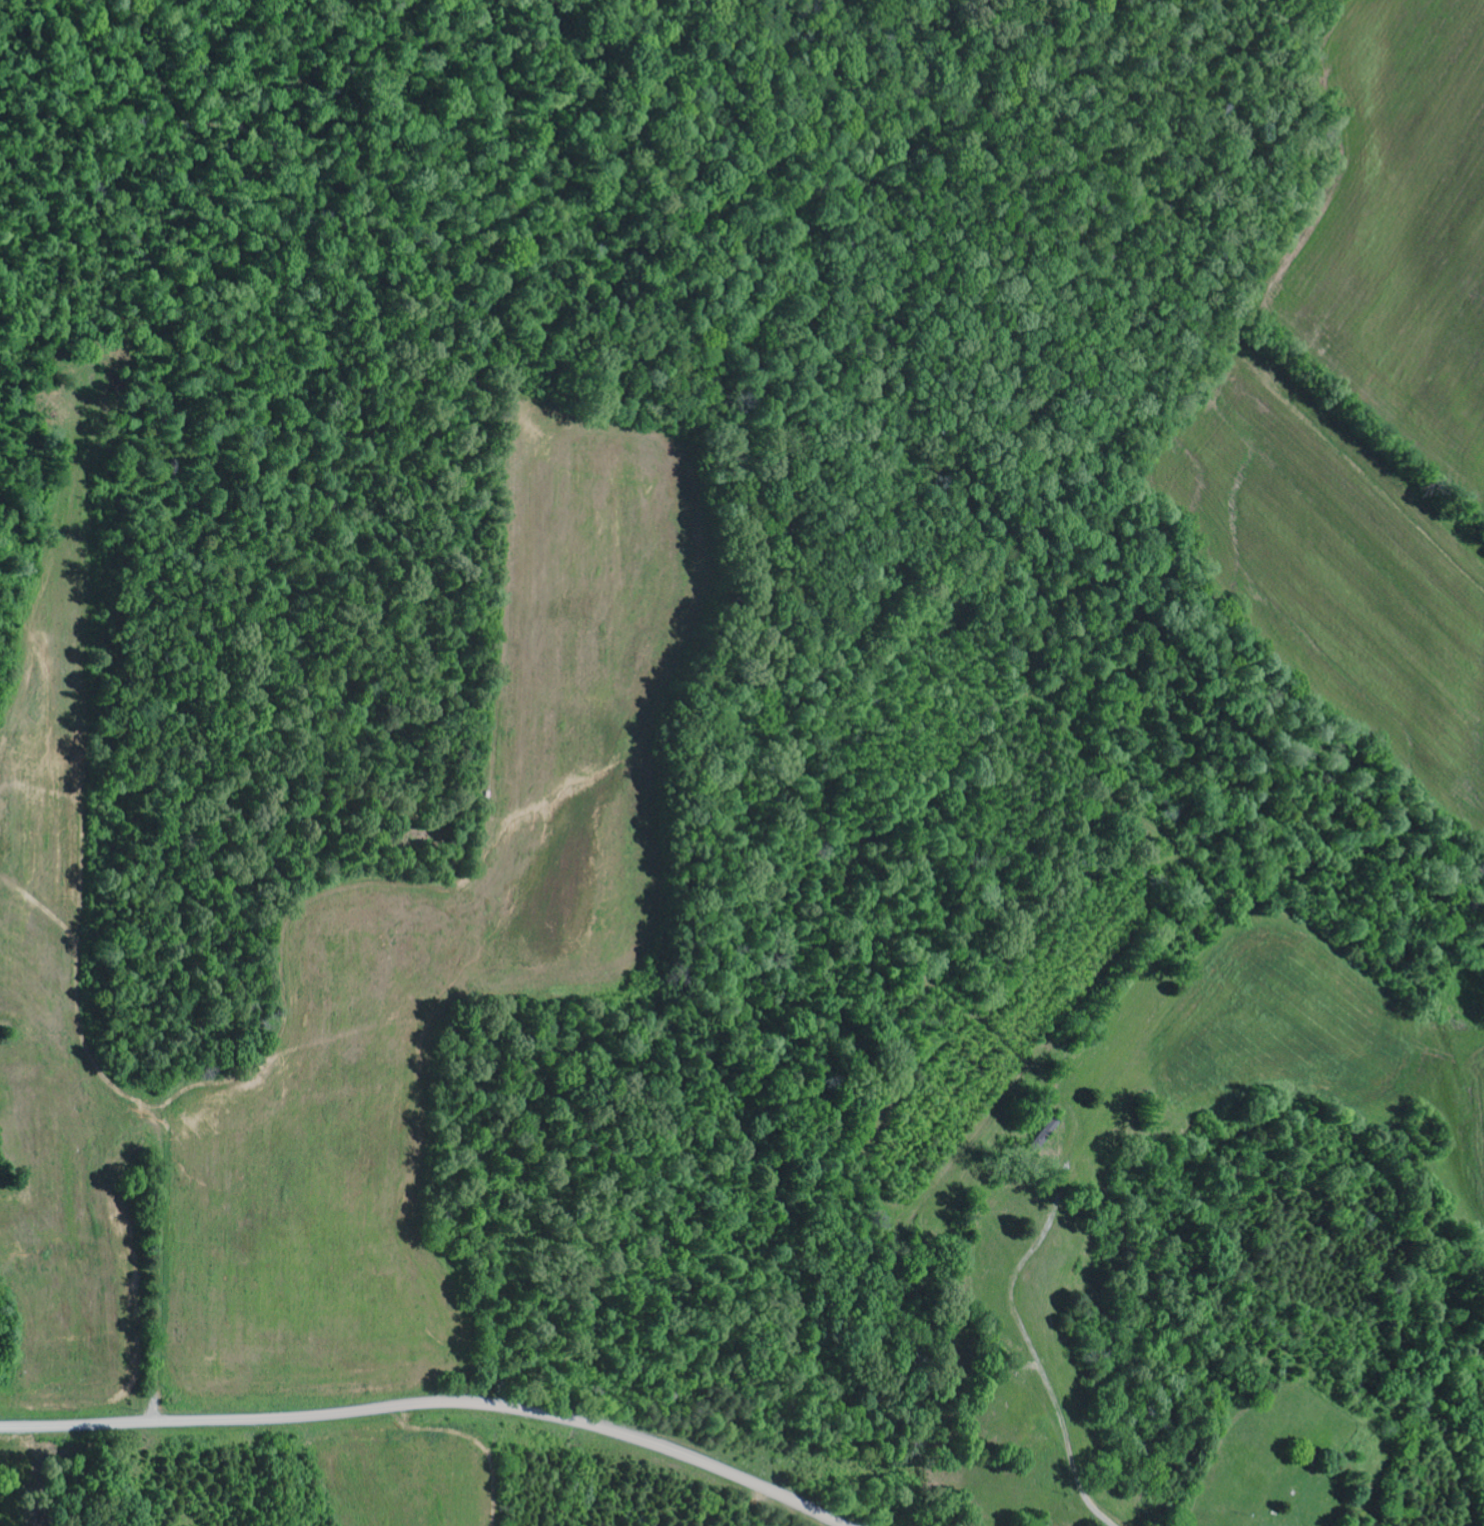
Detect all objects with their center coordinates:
road: (433, 1404)

